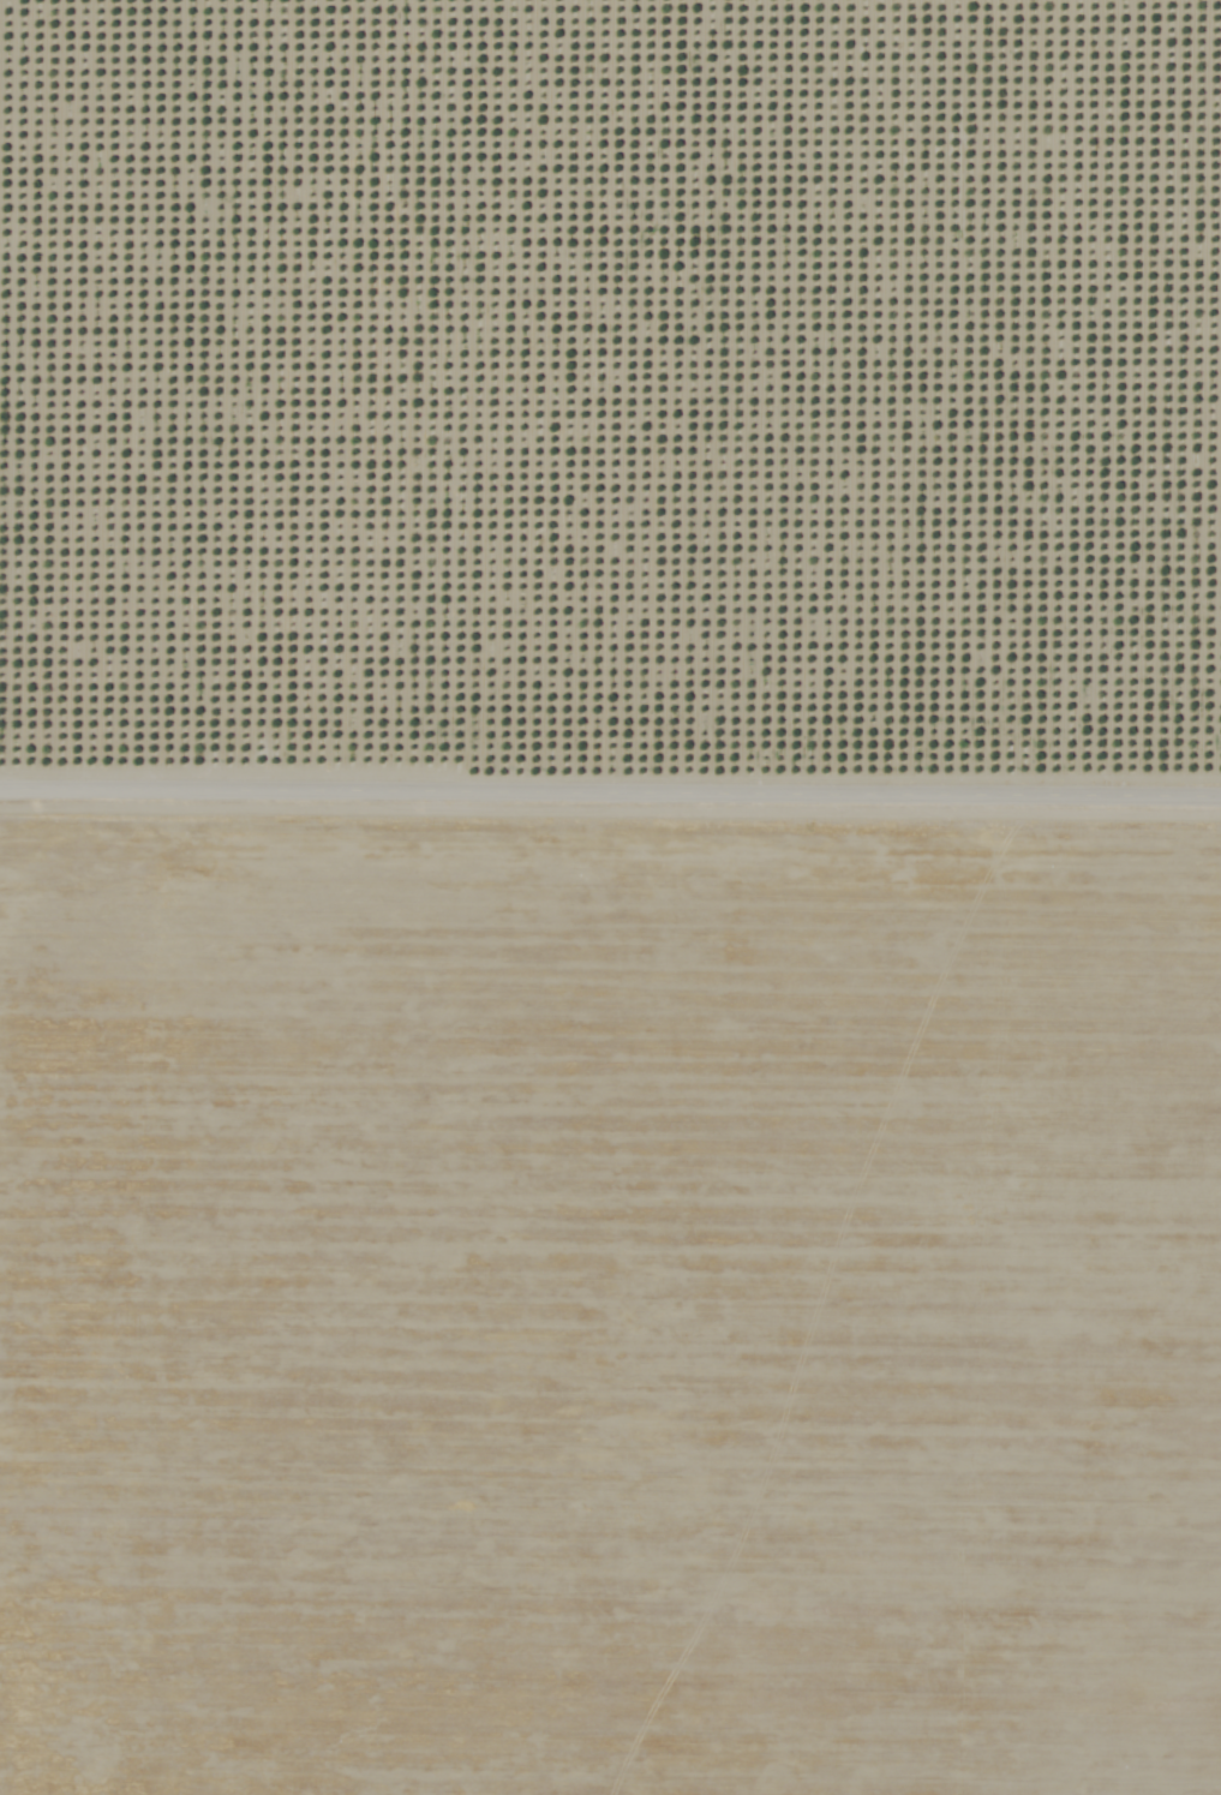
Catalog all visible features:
crop: (611, 401)
road: (610, 782)

